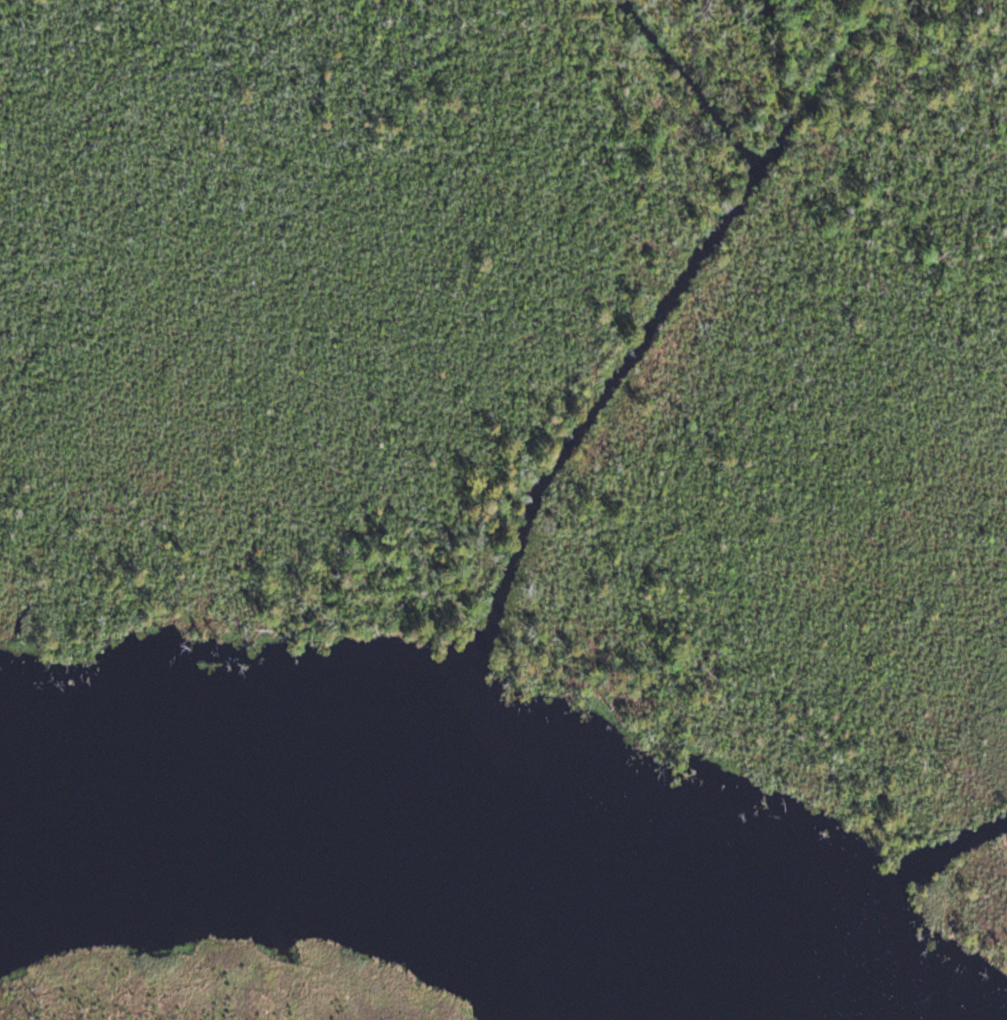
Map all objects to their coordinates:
river: (383, 832)

